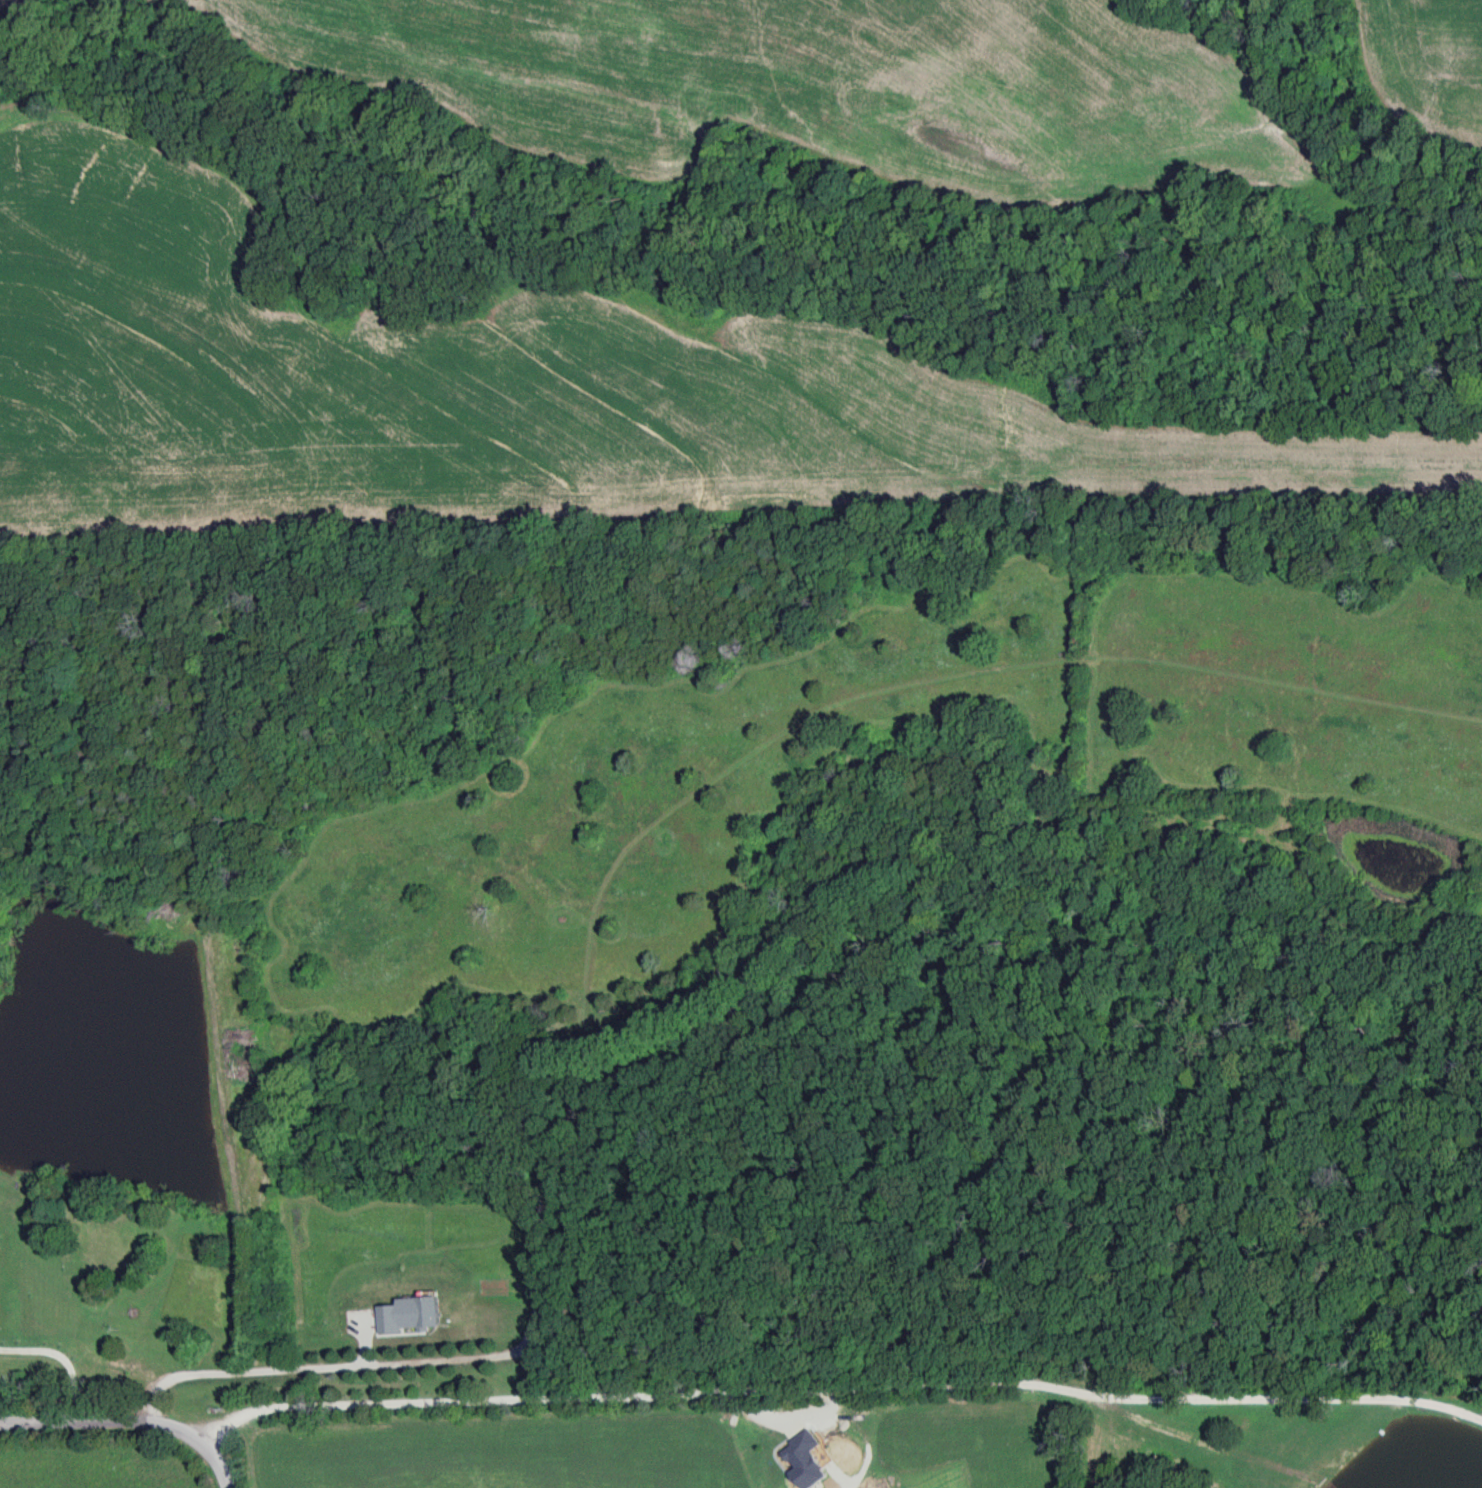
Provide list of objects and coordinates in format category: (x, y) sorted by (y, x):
road: (777, 1395)
road: (133, 1437)

